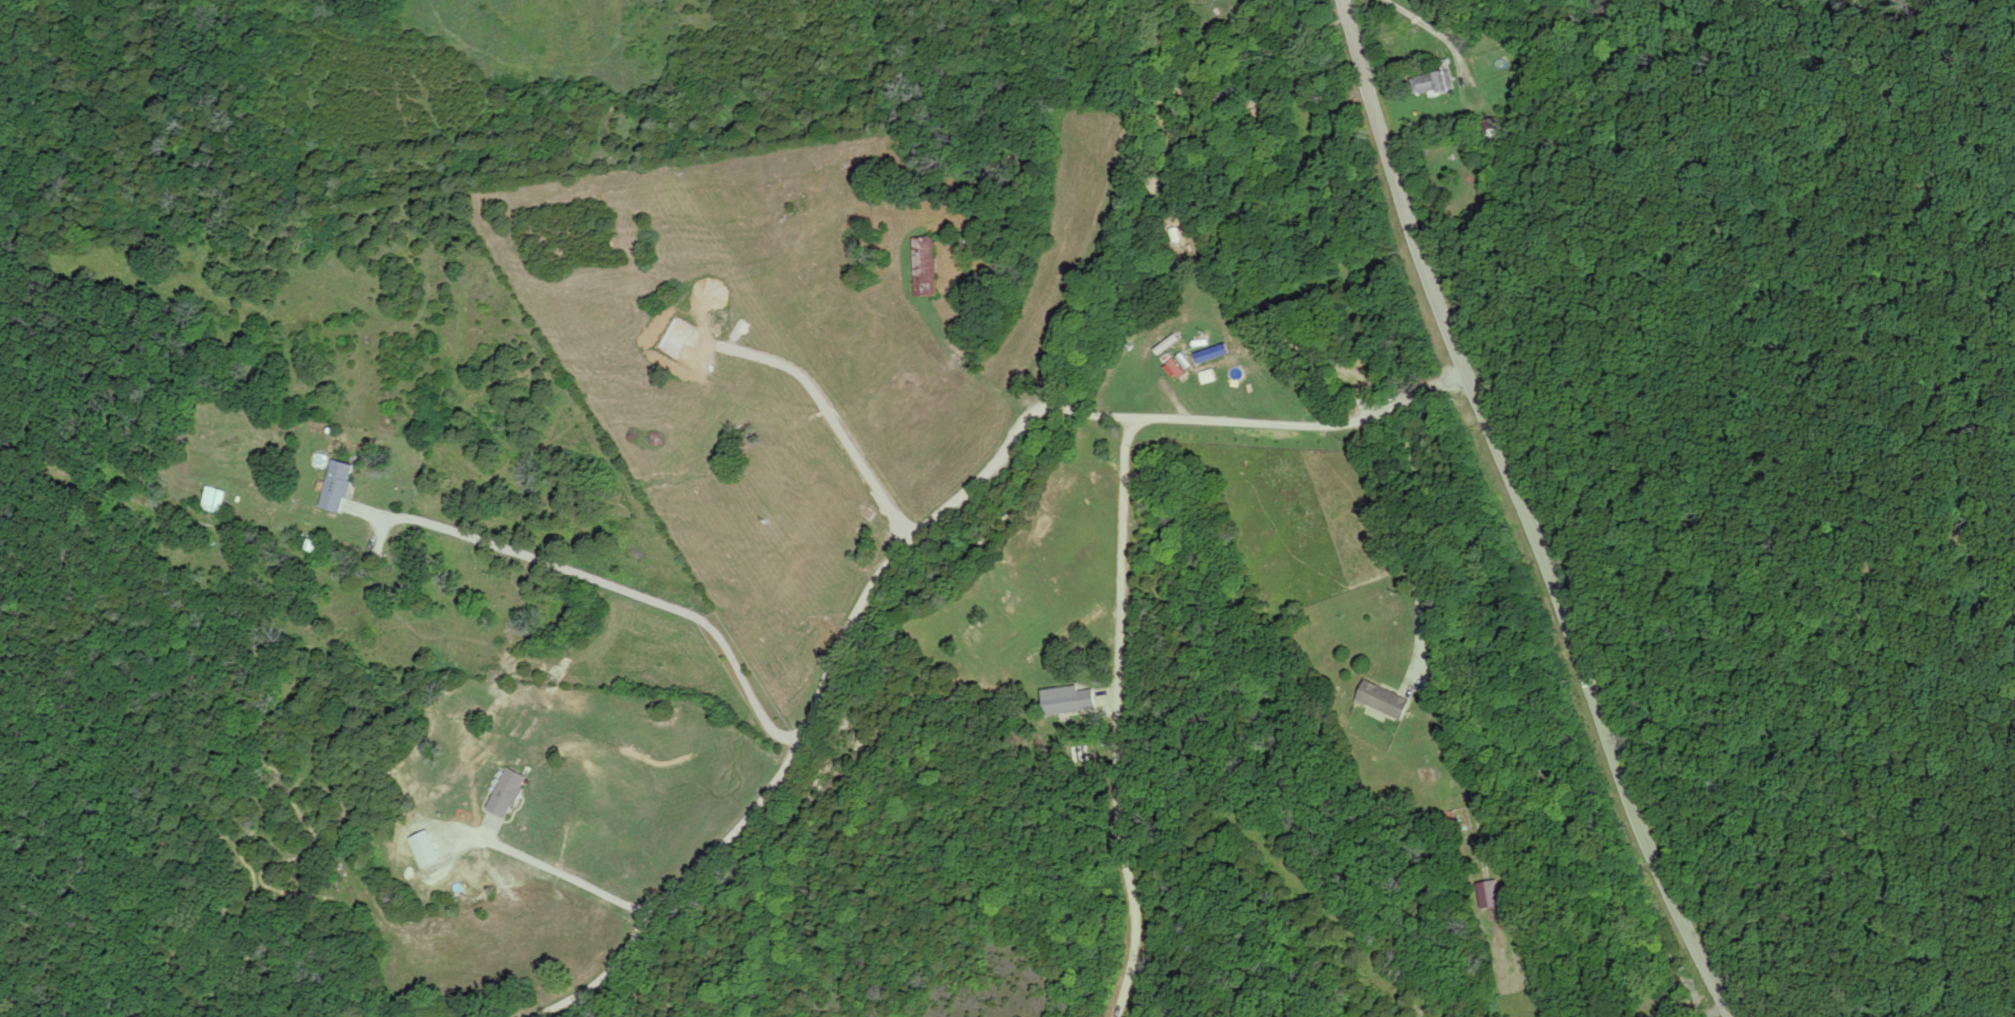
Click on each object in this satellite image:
building: (1295, 0)
building: (1490, 40)
building: (1429, 81)
building: (1492, 127)
building: (925, 265)
building: (1207, 376)
park: (1793, 466)
building: (337, 485)
building: (214, 496)
road: (1524, 513)
road: (859, 515)
road: (1871, 610)
building: (1383, 699)
building: (1068, 700)
building: (507, 793)
building: (425, 848)
building: (1488, 894)
road: (1842, 935)

